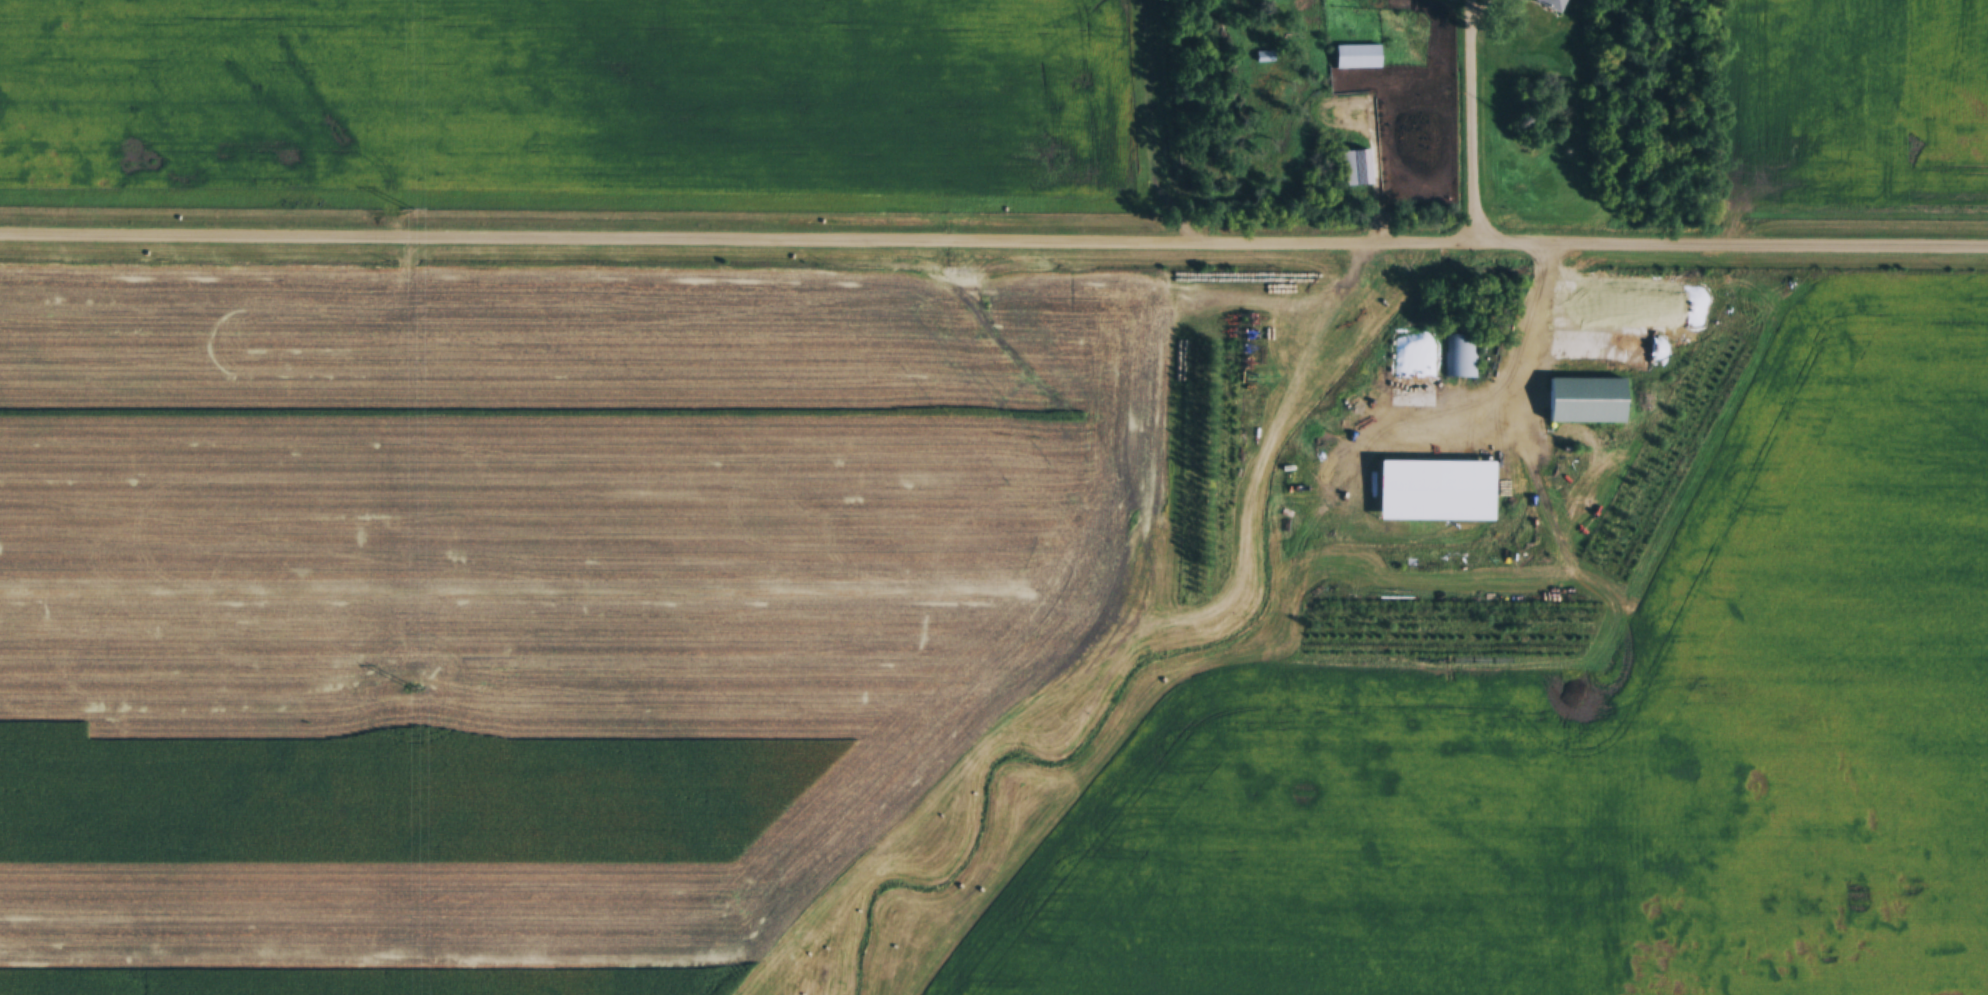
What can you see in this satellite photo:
building: (1552, 4)
building: (1357, 57)
building: (1264, 58)
road: (1474, 119)
building: (1355, 169)
power tower: (407, 210)
road: (993, 237)
road: (1519, 339)
building: (1459, 358)
building: (1586, 402)
power tower: (411, 689)

